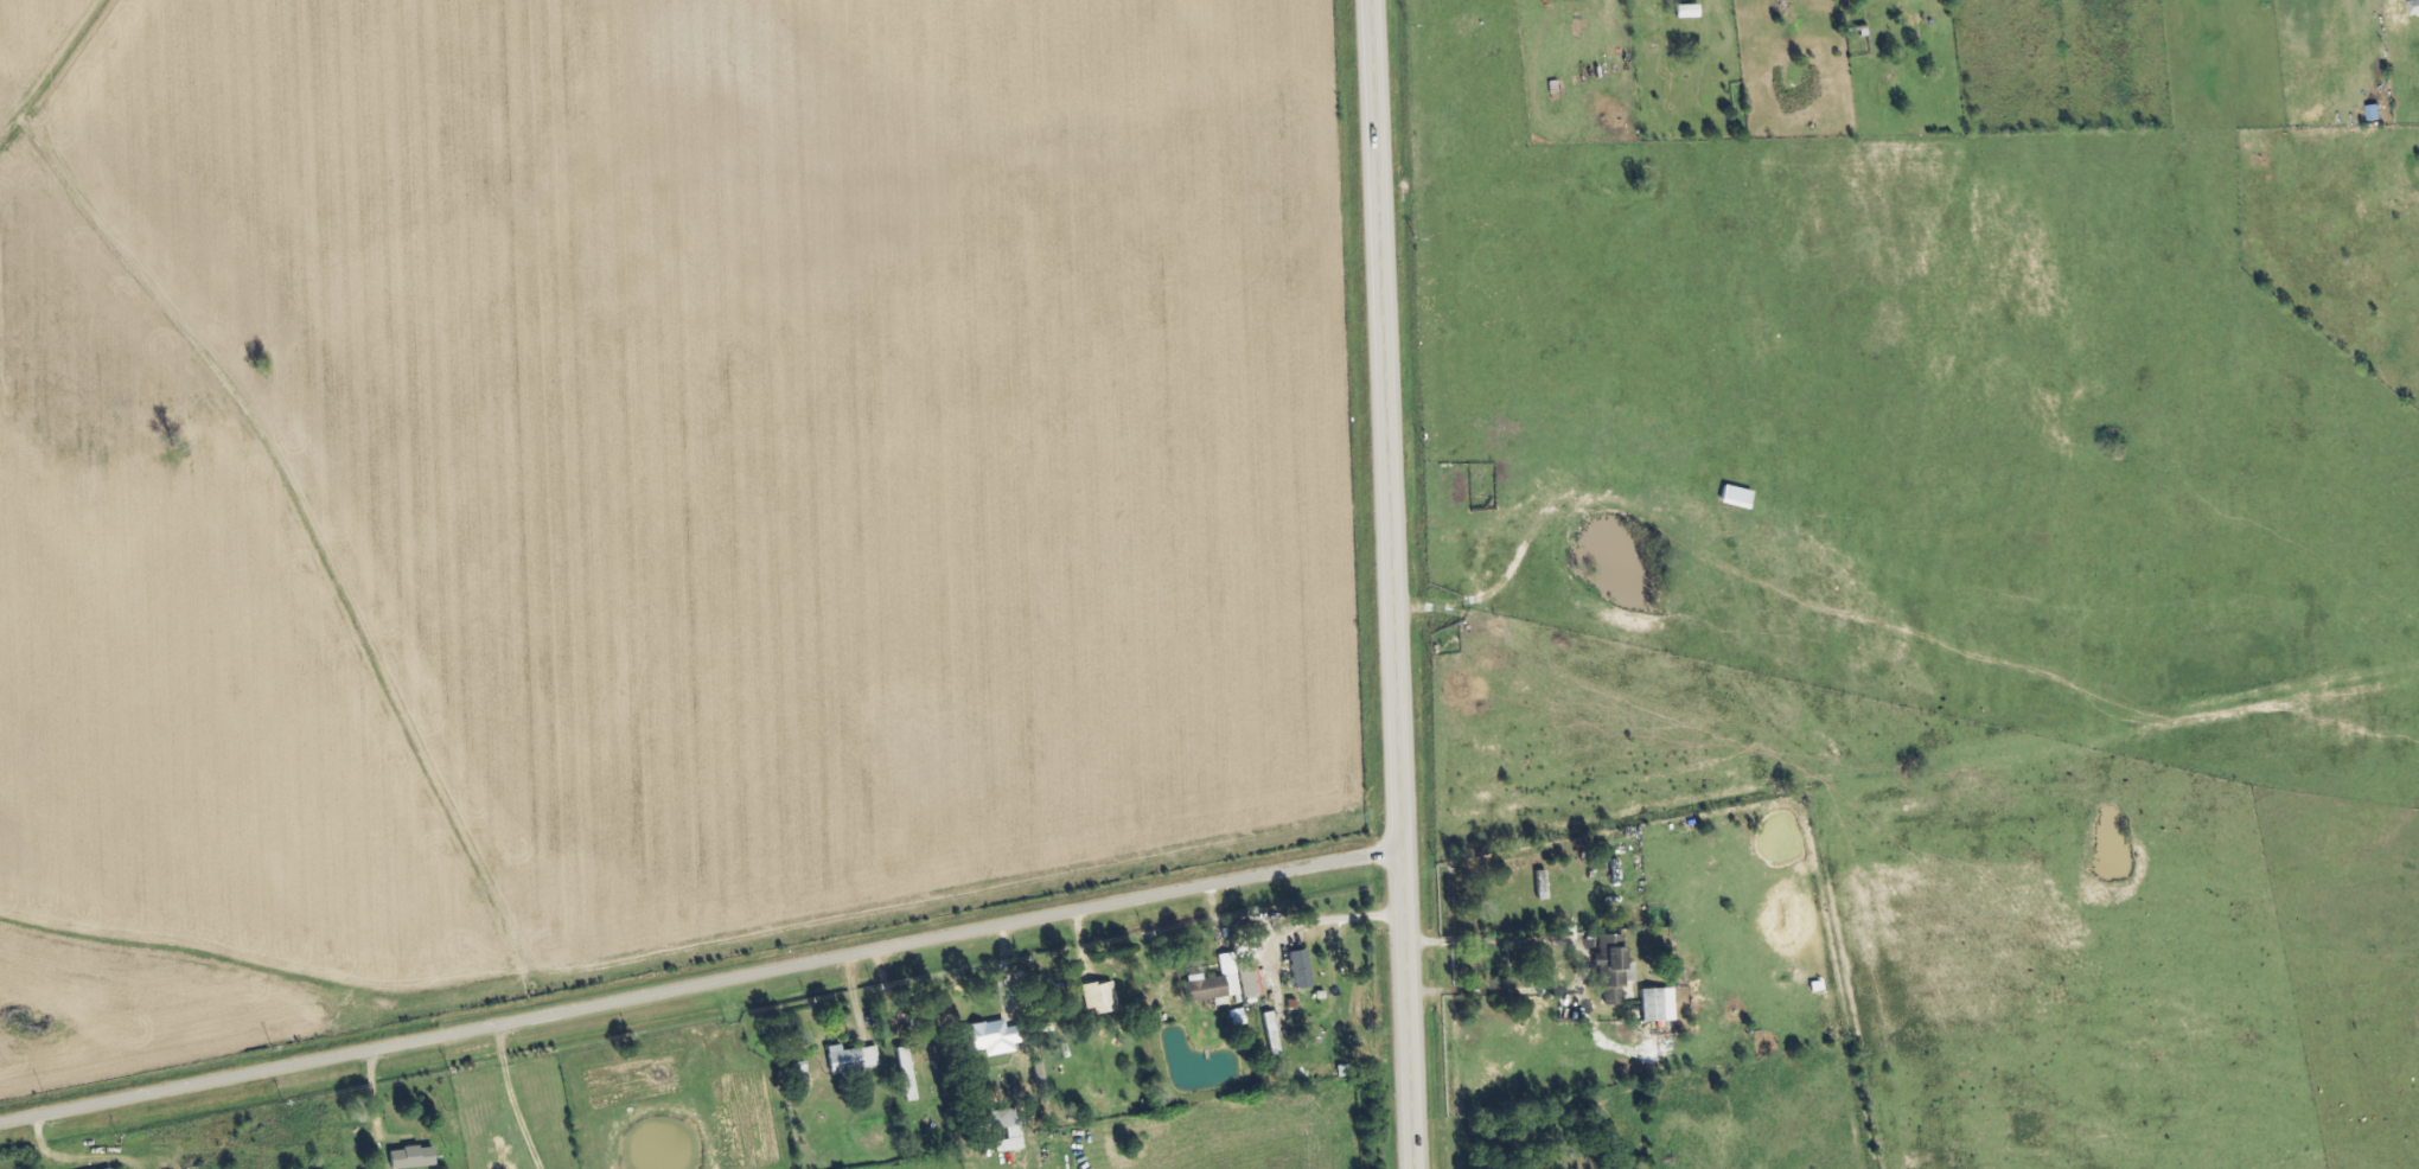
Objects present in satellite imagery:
building: (2418, 4)
building: (1690, 12)
building: (1737, 498)
road: (1385, 584)
building: (1301, 970)
building: (1613, 970)
road: (1577, 972)
building: (1249, 980)
building: (1215, 984)
road: (697, 989)
building: (1100, 998)
building: (1659, 1007)
building: (1272, 1034)
building: (988, 1036)
building: (853, 1060)
building: (907, 1074)
road: (511, 1100)
building: (1001, 1120)
building: (413, 1158)

